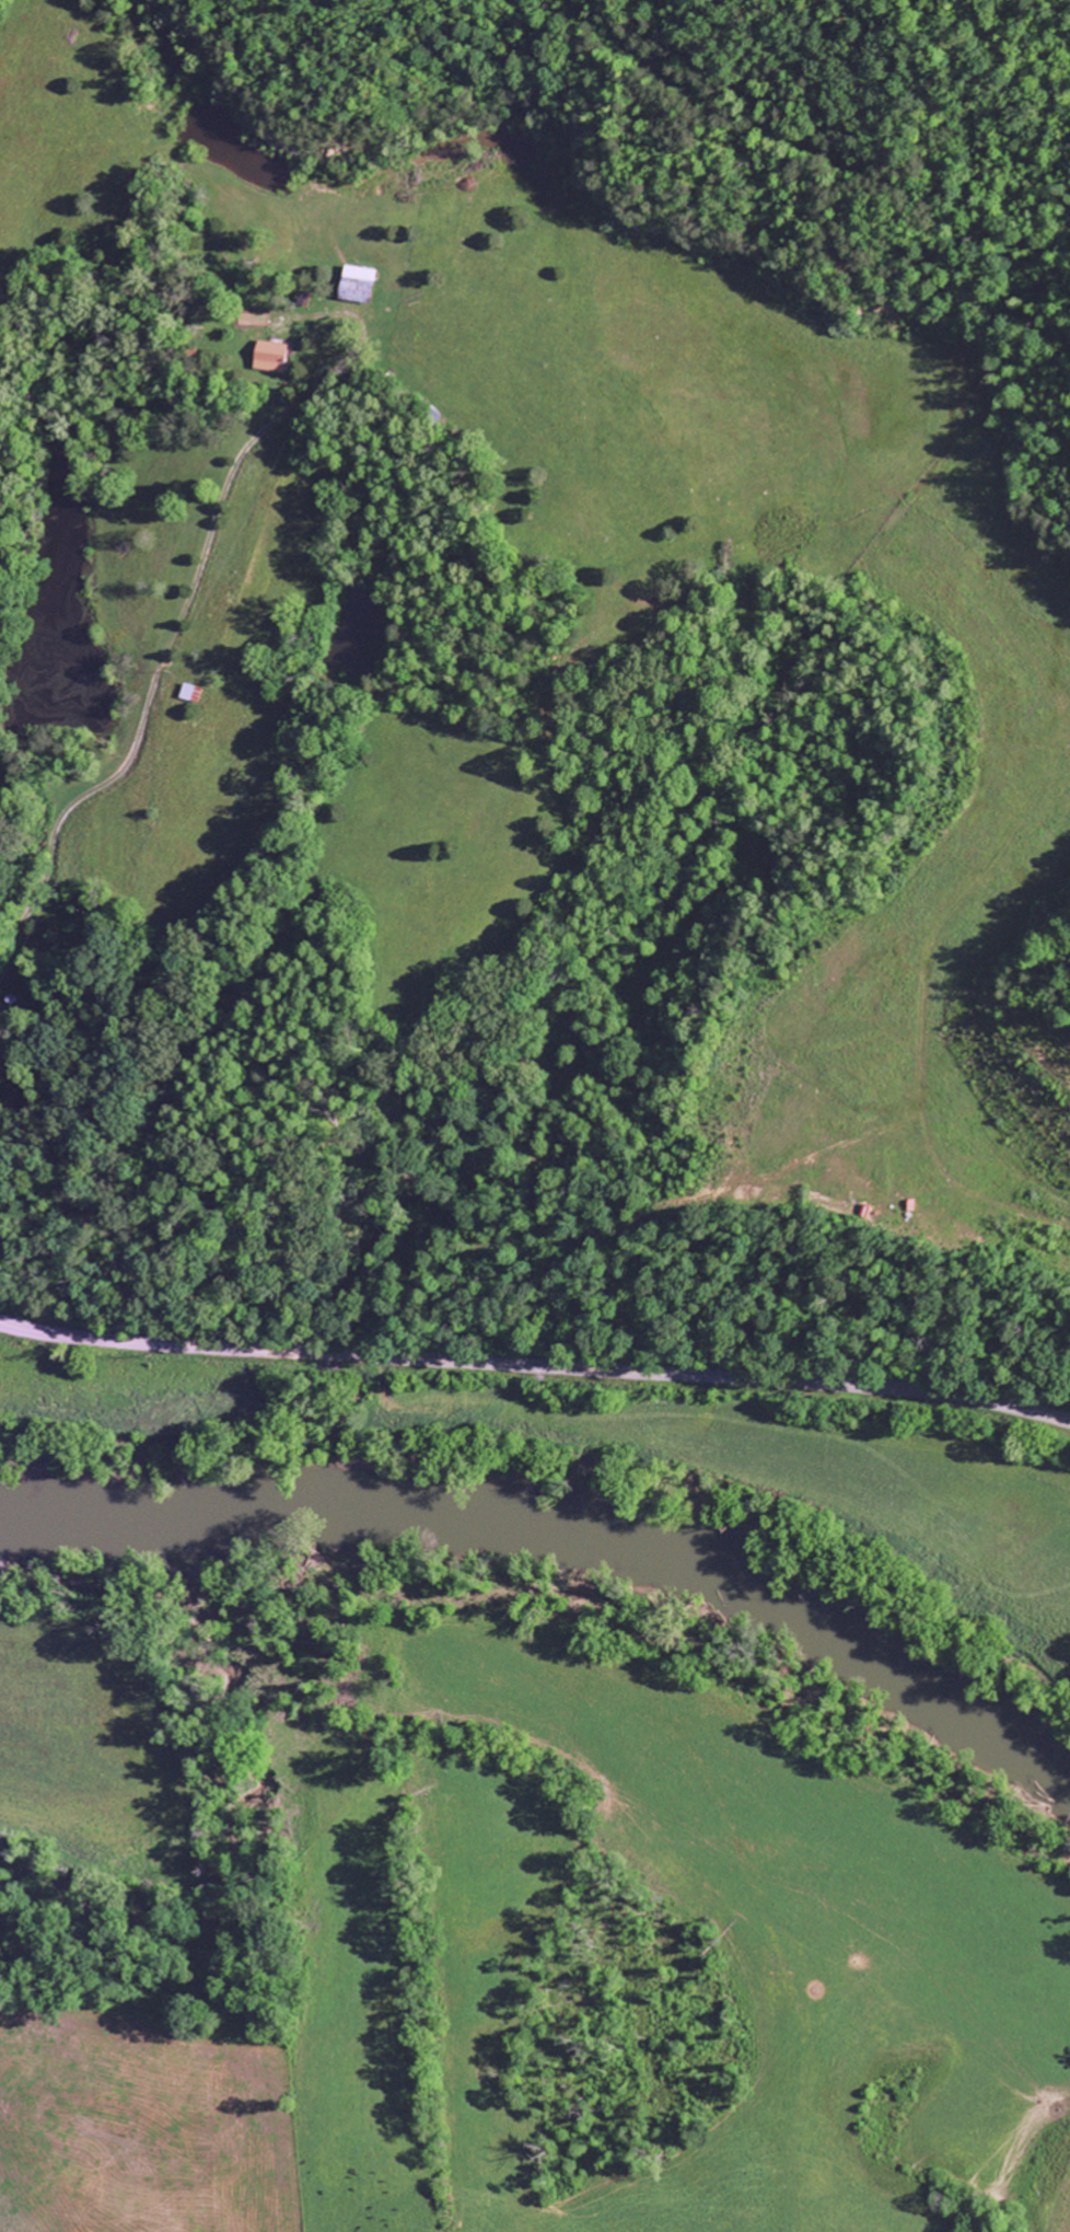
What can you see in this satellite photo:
building: (282, 357)
road: (32, 867)
road: (535, 1368)
river: (578, 1480)

